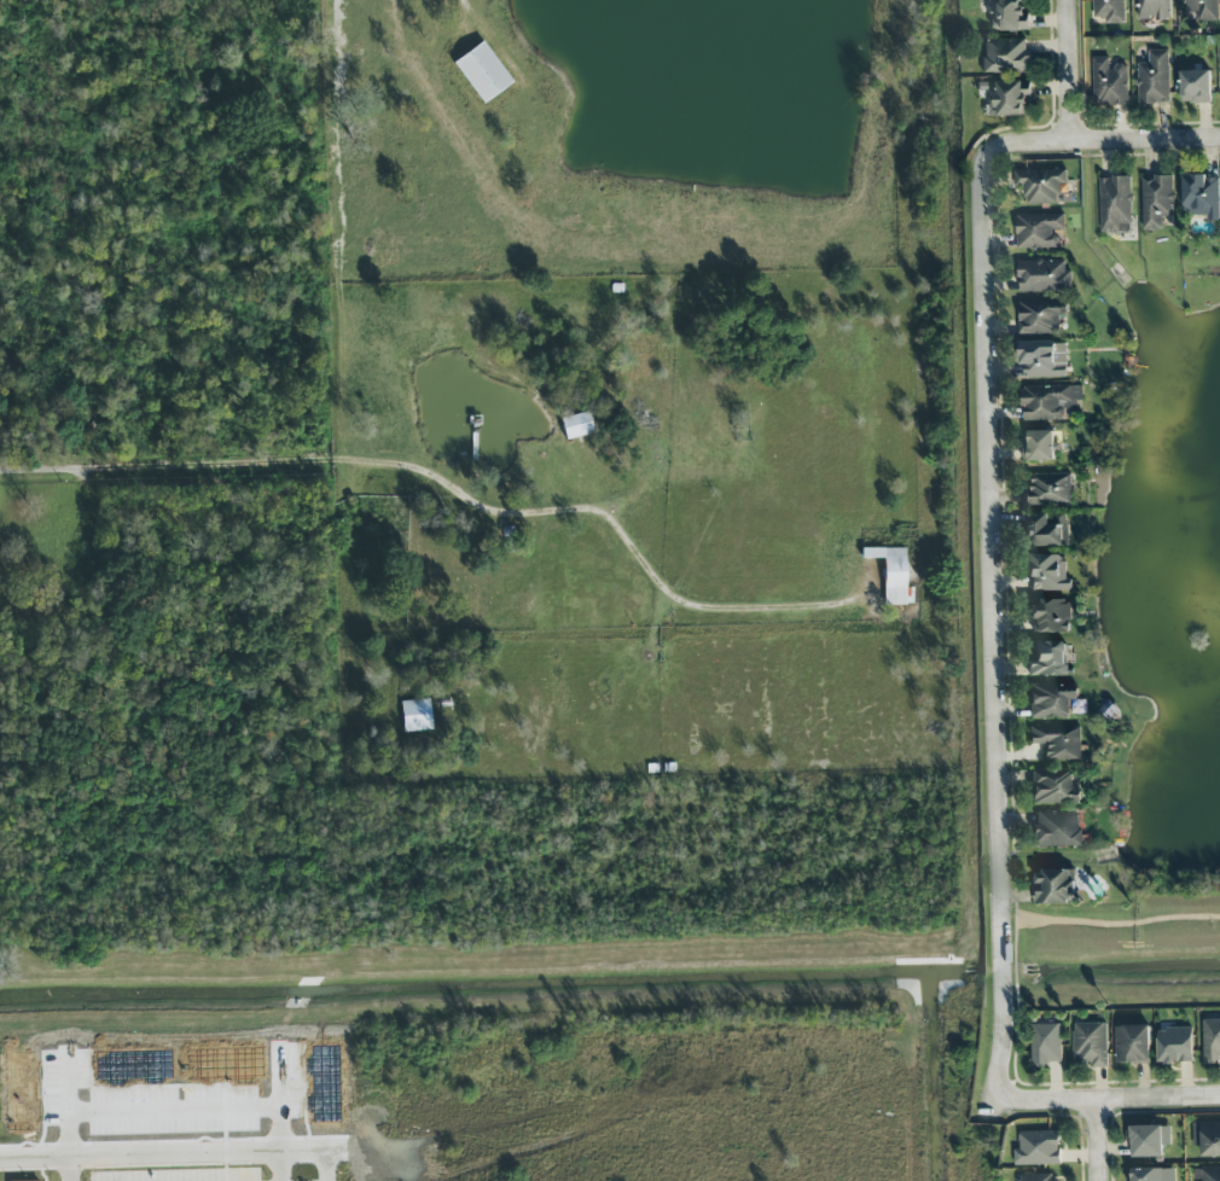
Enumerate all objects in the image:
road: (472, 4)
building: (1203, 7)
building: (1154, 10)
building: (1110, 11)
building: (1007, 16)
building: (1006, 57)
road: (1069, 71)
building: (482, 72)
building: (1154, 78)
building: (1110, 83)
building: (1196, 86)
building: (1007, 99)
road: (1145, 140)
building: (1041, 185)
building: (1202, 196)
building: (1156, 200)
building: (1116, 204)
building: (1039, 231)
building: (1044, 277)
building: (1041, 316)
building: (1044, 359)
building: (1050, 402)
building: (576, 426)
building: (1039, 446)
road: (169, 466)
building: (1048, 489)
road: (606, 523)
building: (1047, 530)
building: (1047, 572)
building: (891, 575)
road: (995, 580)
building: (1051, 616)
park: (1161, 630)
building: (1048, 659)
building: (1051, 700)
building: (1058, 741)
building: (1053, 787)
building: (1057, 830)
building: (1057, 886)
road: (1111, 925)
building: (1212, 1041)
building: (1133, 1043)
building: (1046, 1045)
building: (1091, 1045)
building: (1175, 1045)
road: (1108, 1098)
building: (1207, 1138)
road: (1098, 1140)
building: (1149, 1140)
building: (1039, 1148)
road: (164, 1158)
road: (280, 1168)
road: (71, 1170)
building: (1152, 1174)
building: (1208, 1174)
building: (1035, 1176)

